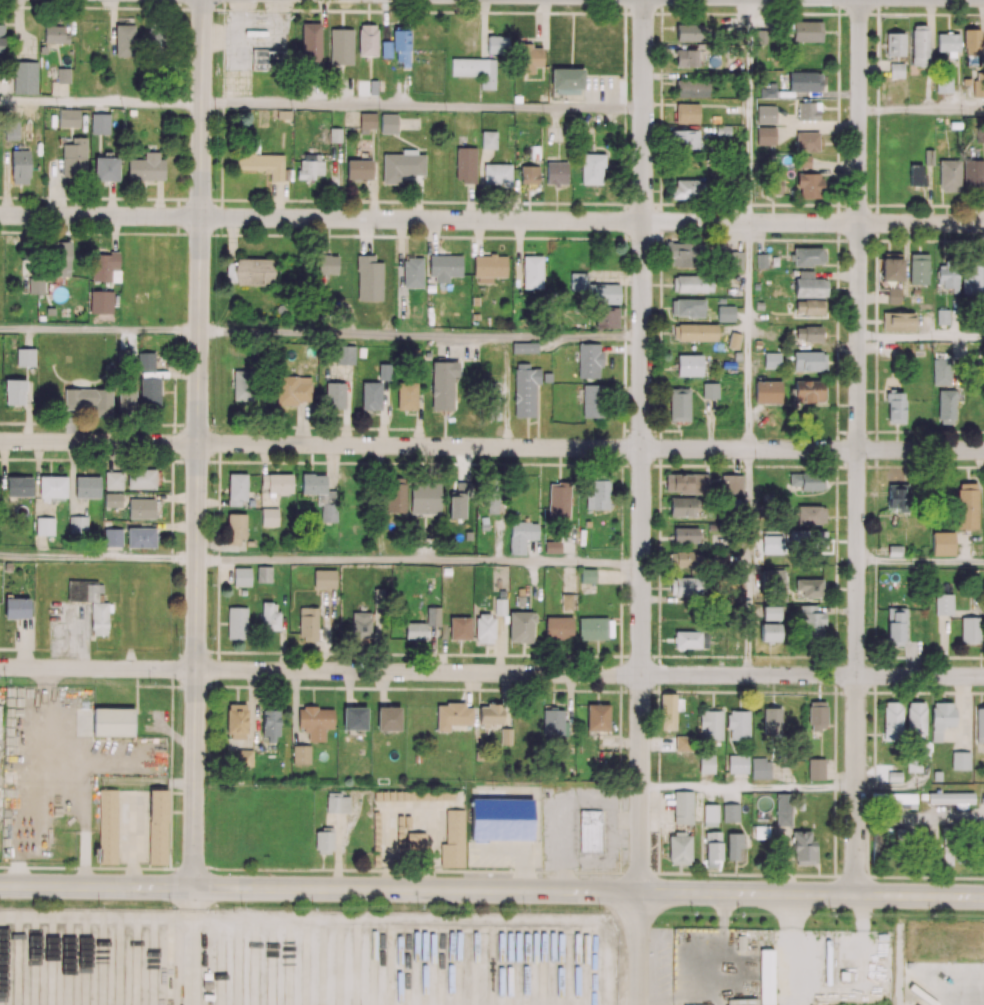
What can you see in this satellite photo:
street lamp: (227, 13)
street lamp: (293, 16)
road: (238, 17)
road: (279, 17)
street lamp: (263, 23)
road: (240, 34)
street lamp: (262, 38)
road: (279, 44)
building: (268, 61)
road: (238, 63)
road: (100, 102)
road: (422, 106)
road: (921, 109)
street lamp: (217, 111)
road: (750, 111)
street lamp: (215, 190)
road: (99, 216)
road: (591, 221)
road: (99, 330)
road: (421, 334)
road: (749, 336)
road: (921, 337)
road: (98, 443)
road: (197, 443)
road: (642, 446)
road: (590, 447)
road: (858, 447)
building: (141, 479)
road: (98, 557)
road: (419, 561)
road: (747, 562)
road: (920, 562)
road: (97, 668)
road: (418, 672)
road: (812, 675)
street lamp: (178, 691)
street lamp: (628, 695)
road: (97, 782)
road: (748, 787)
building: (159, 807)
road: (920, 817)
building: (108, 827)
road: (132, 840)
building: (158, 844)
road: (85, 859)
road: (491, 872)
road: (492, 890)
road: (192, 946)
road: (639, 948)

